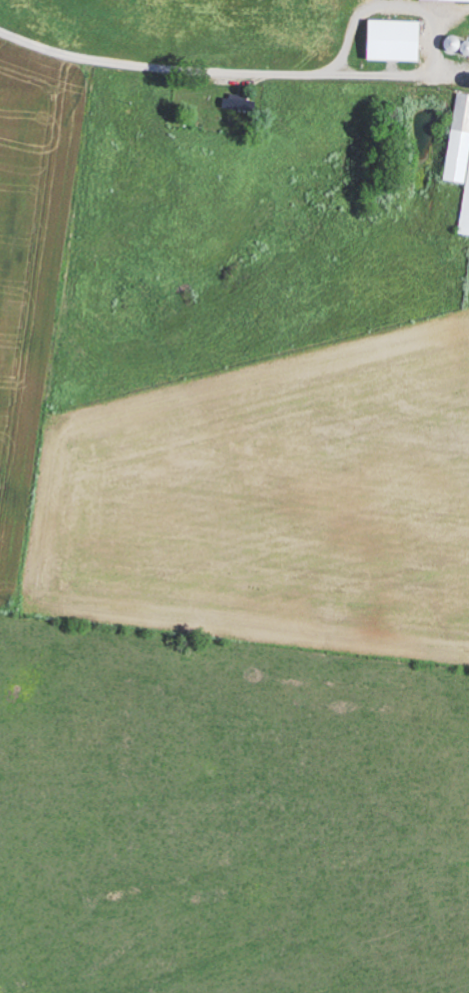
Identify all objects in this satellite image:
building: (397, 38)
road: (173, 69)
building: (461, 150)

